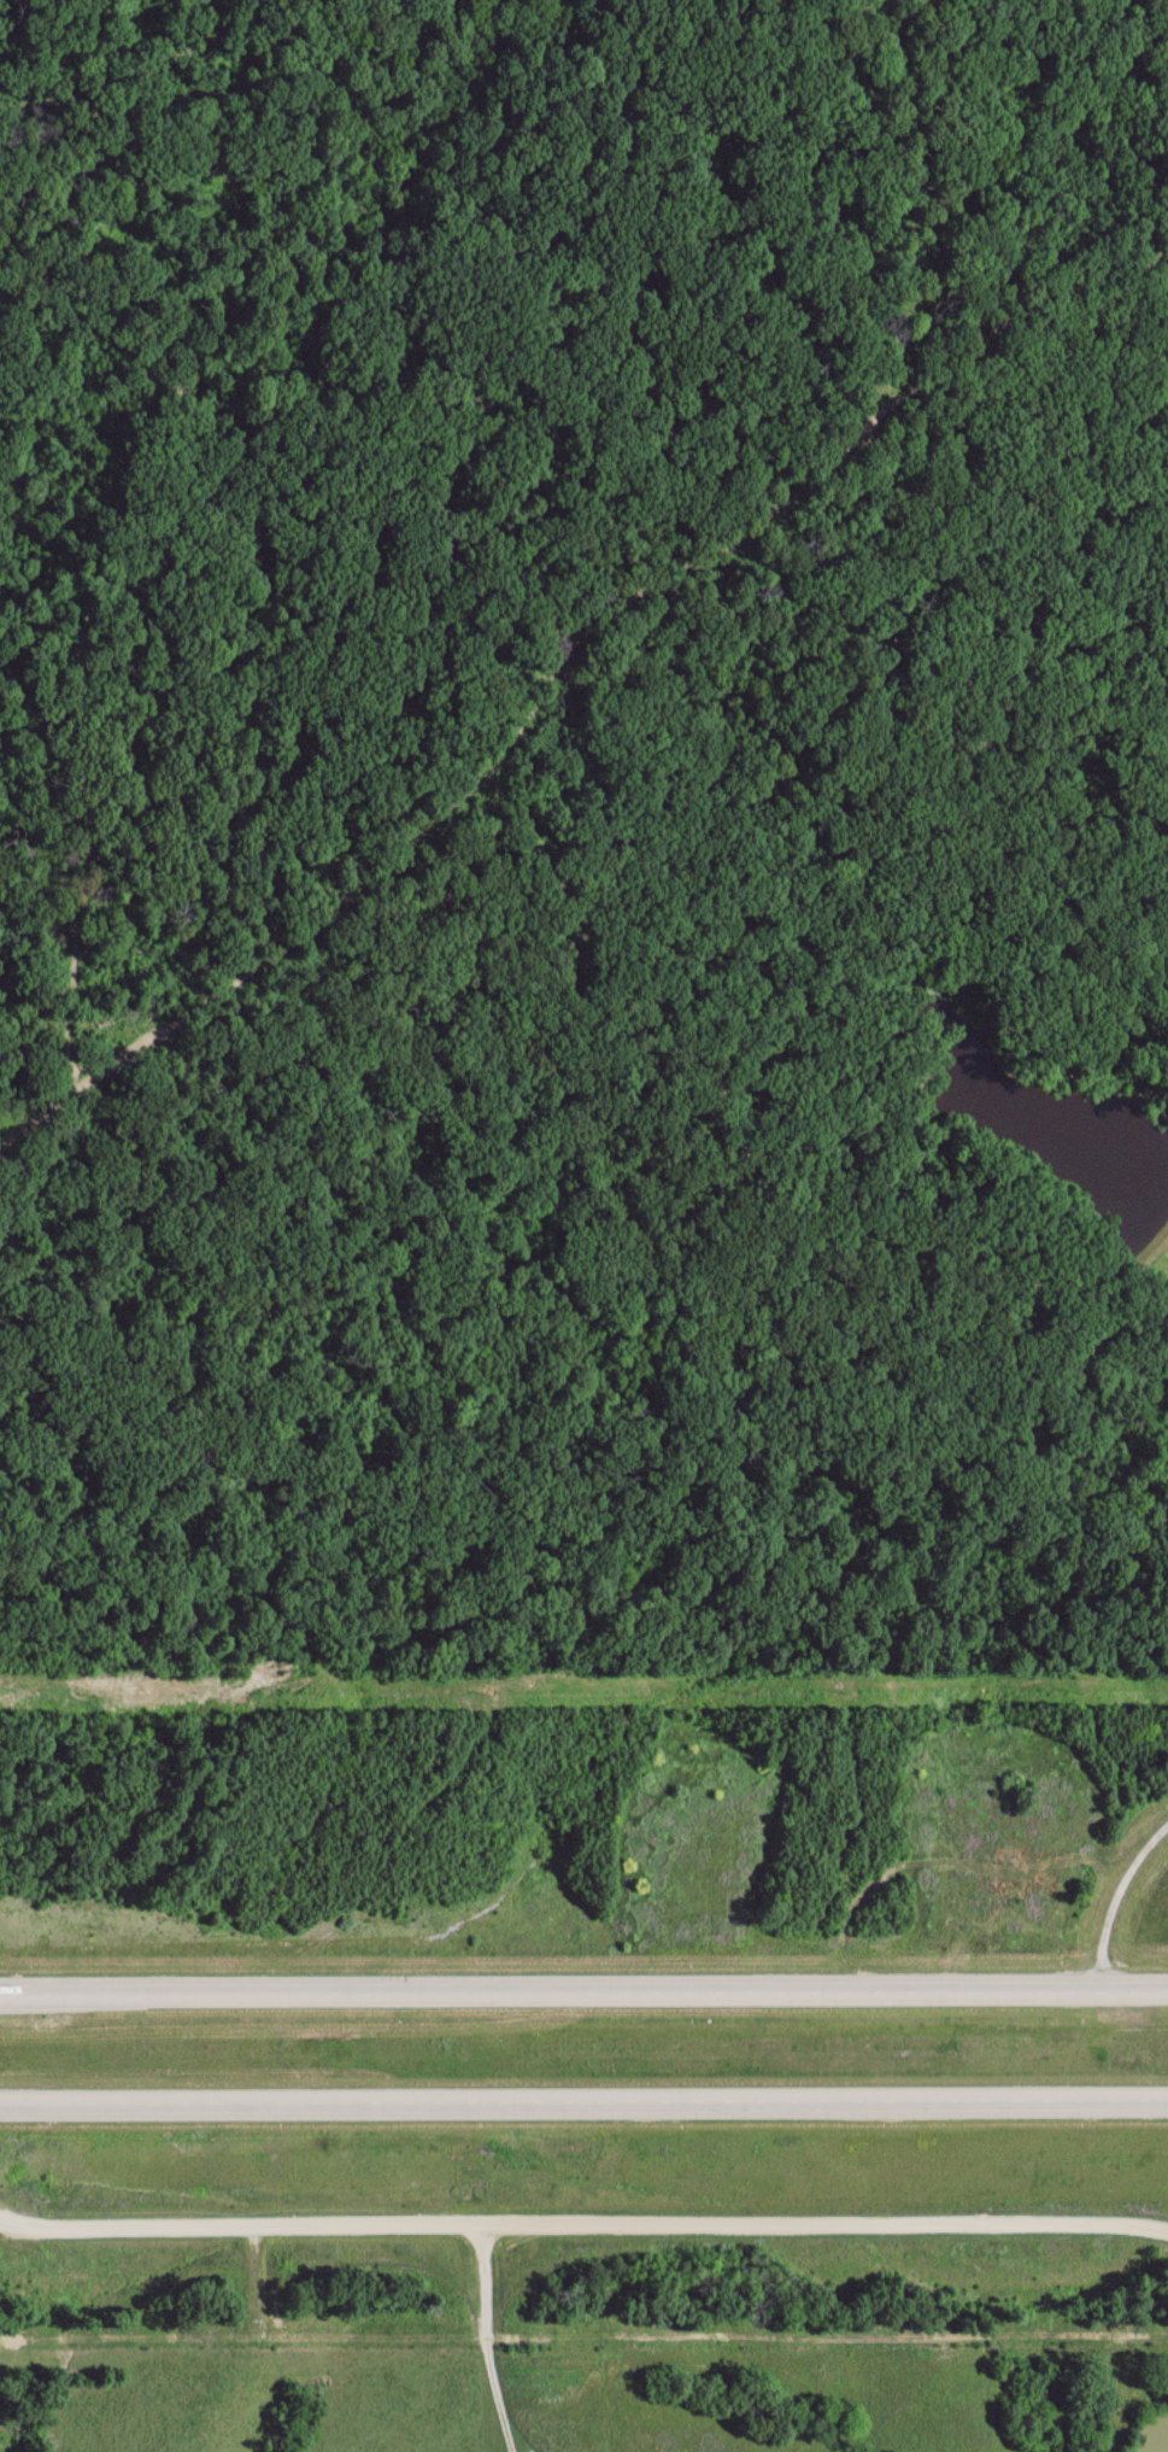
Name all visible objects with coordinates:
road: (1117, 1904)
road: (583, 1989)
road: (583, 2096)
road: (583, 2222)

